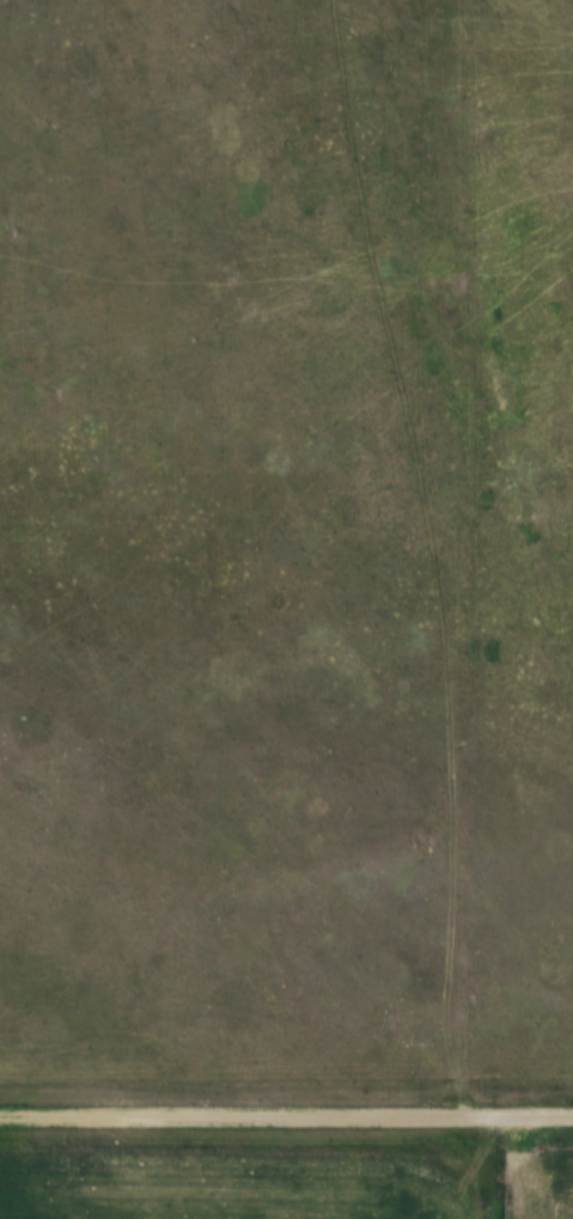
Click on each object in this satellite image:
road: (286, 1116)

